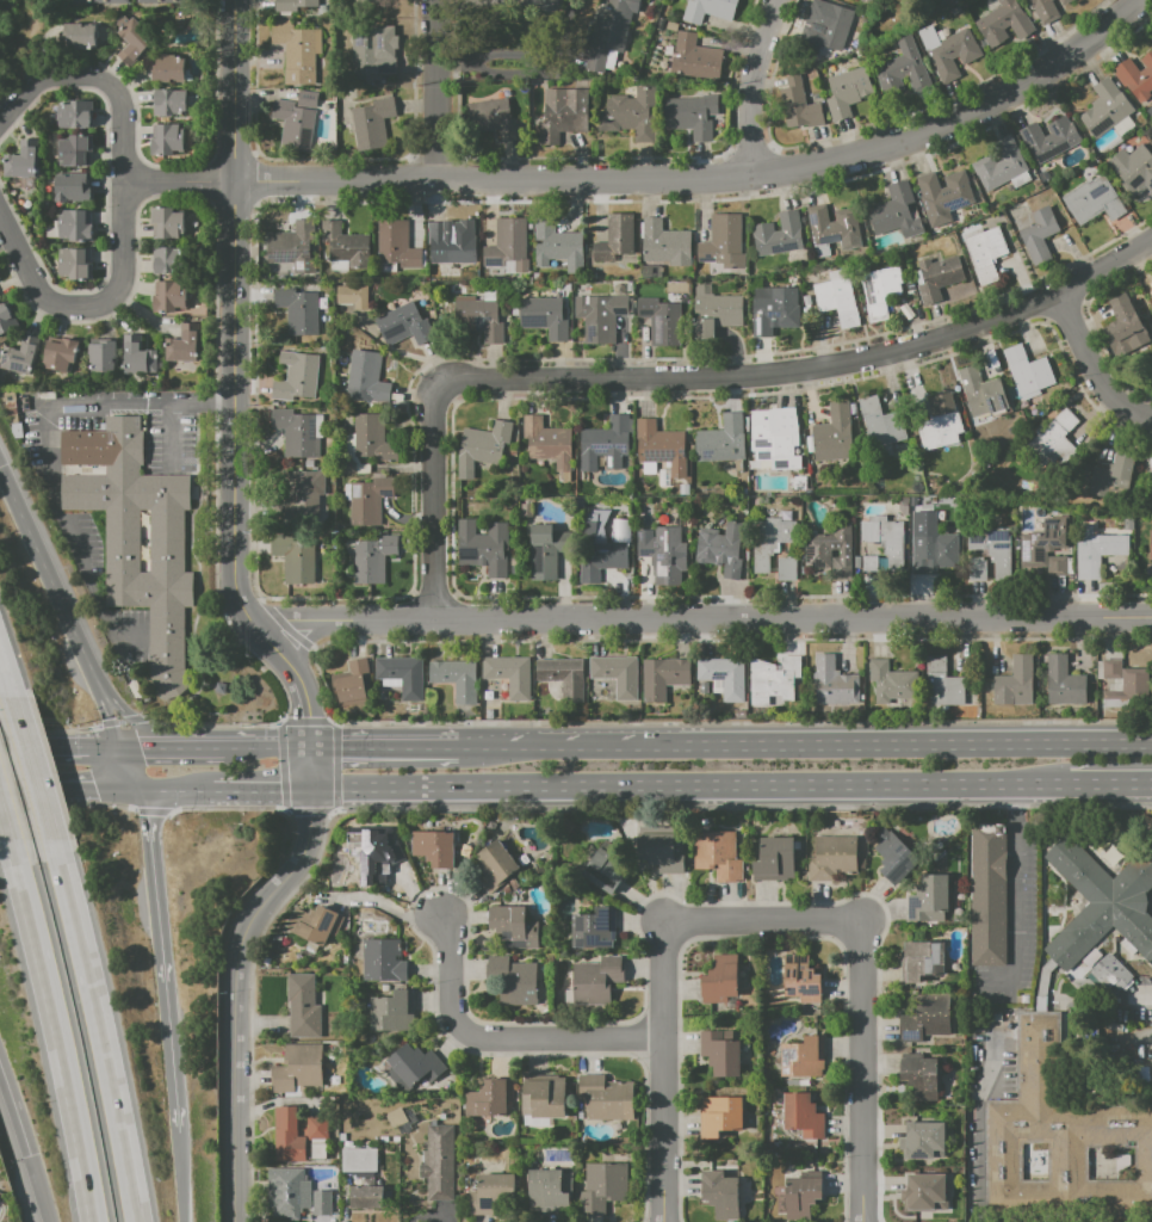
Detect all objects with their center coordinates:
building: (179, 0)
building: (546, 0)
building: (94, 1)
building: (151, 1)
building: (367, 1)
building: (1064, 1)
building: (295, 5)
building: (707, 10)
building: (1045, 10)
building: (1004, 23)
building: (659, 24)
building: (829, 27)
building: (609, 32)
building: (81, 35)
building: (135, 41)
building: (948, 49)
building: (298, 50)
building: (368, 55)
road: (518, 55)
building: (695, 57)
building: (902, 67)
building: (168, 68)
road: (95, 78)
building: (1135, 78)
road: (17, 80)
road: (750, 85)
road: (433, 91)
building: (848, 92)
building: (171, 101)
building: (799, 105)
building: (1104, 109)
building: (75, 113)
building: (563, 113)
building: (630, 113)
building: (692, 115)
building: (490, 117)
building: (297, 119)
building: (371, 122)
building: (167, 138)
building: (1049, 138)
building: (75, 149)
building: (23, 160)
building: (1001, 163)
building: (1133, 168)
road: (707, 177)
road: (178, 180)
building: (72, 186)
building: (943, 196)
building: (1092, 200)
road: (104, 209)
building: (897, 211)
building: (167, 222)
building: (72, 226)
building: (529, 226)
building: (831, 229)
building: (1038, 233)
building: (778, 234)
building: (615, 237)
building: (724, 242)
building: (397, 243)
building: (451, 243)
building: (665, 243)
building: (346, 245)
building: (558, 245)
building: (293, 246)
building: (508, 246)
building: (985, 252)
building: (169, 260)
building: (74, 264)
building: (650, 271)
building: (537, 276)
building: (937, 277)
building: (312, 278)
building: (618, 289)
building: (881, 290)
building: (169, 295)
building: (353, 295)
building: (838, 297)
building: (322, 303)
road: (91, 304)
building: (298, 308)
building: (773, 309)
building: (716, 311)
building: (544, 315)
building: (481, 316)
building: (600, 316)
building: (661, 317)
building: (7, 320)
building: (404, 325)
building: (1125, 327)
building: (182, 344)
road: (235, 348)
building: (60, 353)
building: (137, 354)
building: (20, 356)
building: (103, 356)
road: (1090, 369)
building: (1027, 371)
road: (215, 372)
building: (296, 377)
building: (366, 377)
road: (683, 377)
building: (983, 393)
building: (7, 395)
road: (54, 403)
building: (10, 405)
building: (12, 419)
building: (881, 422)
building: (941, 422)
building: (16, 431)
building: (298, 431)
building: (834, 433)
road: (169, 434)
building: (372, 438)
building: (770, 438)
building: (721, 440)
building: (547, 442)
building: (1057, 442)
building: (605, 443)
building: (483, 444)
building: (661, 449)
building: (513, 453)
building: (309, 463)
building: (1111, 475)
building: (1151, 476)
building: (303, 492)
building: (367, 500)
road: (253, 504)
building: (529, 510)
building: (137, 536)
building: (885, 537)
building: (772, 538)
building: (1151, 544)
building: (483, 545)
building: (602, 545)
building: (829, 547)
building: (1047, 547)
building: (993, 548)
building: (720, 549)
building: (547, 550)
building: (935, 551)
building: (1096, 551)
building: (663, 553)
building: (296, 556)
building: (372, 557)
building: (871, 563)
building: (977, 568)
building: (786, 569)
building: (515, 570)
road: (47, 580)
road: (701, 621)
road: (311, 636)
road: (4, 656)
building: (401, 674)
building: (508, 674)
building: (618, 674)
building: (723, 675)
building: (562, 677)
building: (454, 678)
building: (661, 678)
building: (890, 680)
building: (1121, 680)
building: (351, 683)
building: (773, 683)
building: (834, 683)
building: (1014, 683)
building: (1064, 683)
building: (942, 684)
road: (309, 712)
road: (106, 714)
traffic signals: (310, 717)
road: (129, 718)
road: (120, 720)
road: (49, 729)
road: (899, 745)
road: (147, 747)
road: (202, 747)
road: (44, 748)
road: (105, 748)
traffic signals: (140, 748)
road: (254, 748)
road: (293, 748)
traffic signals: (342, 748)
road: (385, 748)
road: (552, 748)
road: (37, 766)
road: (130, 770)
road: (1108, 785)
road: (688, 789)
road: (69, 791)
traffic signals: (100, 791)
road: (173, 791)
road: (259, 791)
traffic signals: (279, 792)
road: (227, 808)
traffic signals: (316, 816)
traffic signals: (149, 817)
road: (10, 828)
building: (432, 847)
building: (657, 852)
building: (716, 853)
building: (891, 856)
building: (831, 857)
building: (379, 859)
building: (773, 859)
building: (494, 865)
building: (601, 870)
building: (987, 894)
road: (1014, 894)
building: (927, 900)
building: (1103, 901)
road: (385, 903)
building: (314, 924)
building: (366, 926)
building: (514, 926)
building: (592, 928)
road: (673, 933)
road: (849, 933)
road: (761, 937)
road: (165, 959)
building: (382, 959)
building: (919, 959)
road: (663, 973)
road: (239, 974)
building: (1108, 974)
building: (718, 979)
building: (800, 979)
building: (593, 980)
building: (515, 983)
road: (1144, 995)
building: (303, 1006)
building: (391, 1012)
building: (997, 1017)
building: (924, 1019)
road: (502, 1037)
road: (61, 1041)
road: (106, 1042)
building: (718, 1054)
building: (801, 1057)
building: (415, 1064)
building: (298, 1067)
road: (861, 1072)
building: (1151, 1072)
building: (924, 1078)
building: (490, 1097)
building: (545, 1097)
building: (602, 1098)
road: (19, 1104)
building: (801, 1116)
building: (718, 1117)
building: (317, 1128)
building: (287, 1135)
building: (1060, 1137)
building: (913, 1156)
building: (438, 1164)
road: (181, 1177)
building: (601, 1187)
road: (47, 1191)
building: (287, 1191)
building: (549, 1191)
building: (925, 1191)
building: (491, 1192)
building: (717, 1192)
building: (365, 1196)
building: (799, 1196)
building: (322, 1201)

